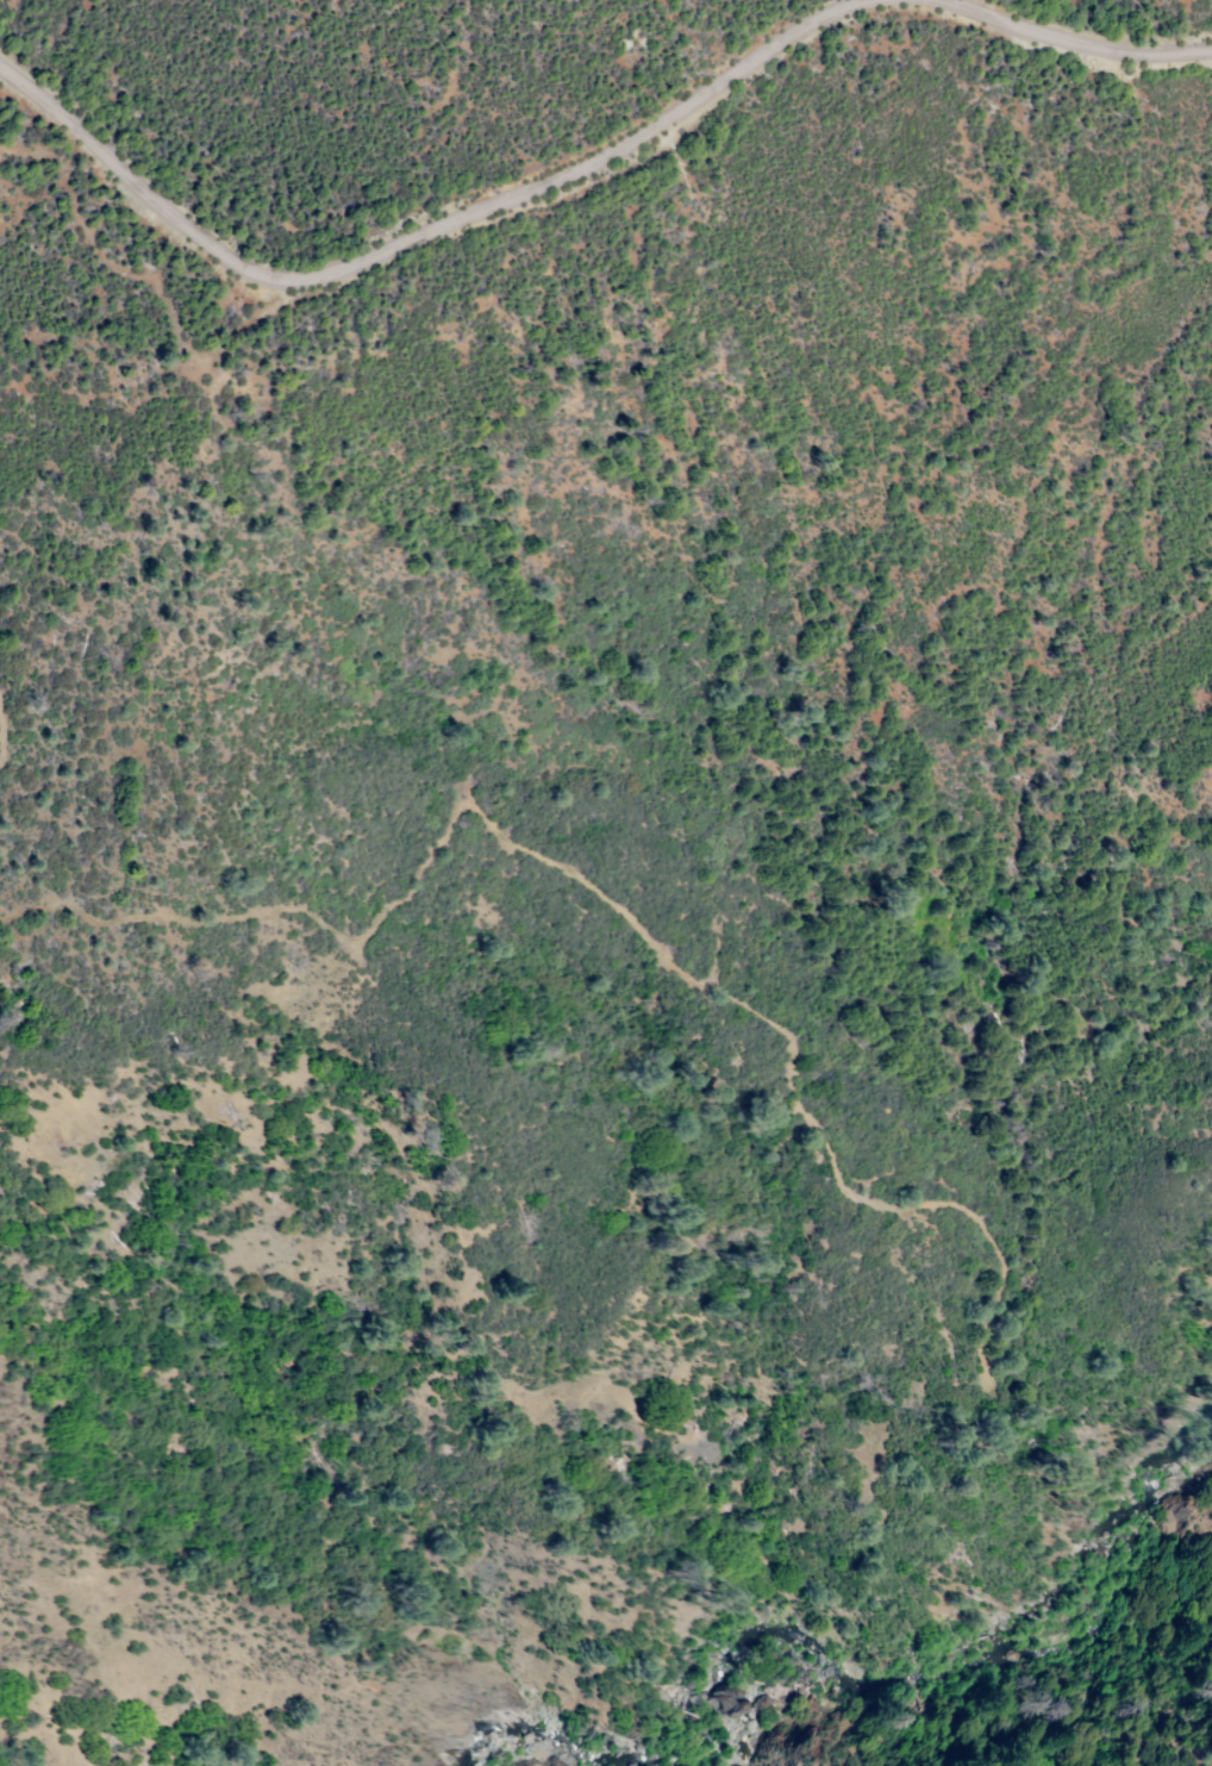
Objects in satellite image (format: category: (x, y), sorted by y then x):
road: (1069, 39)
road: (423, 233)
road: (8, 735)

